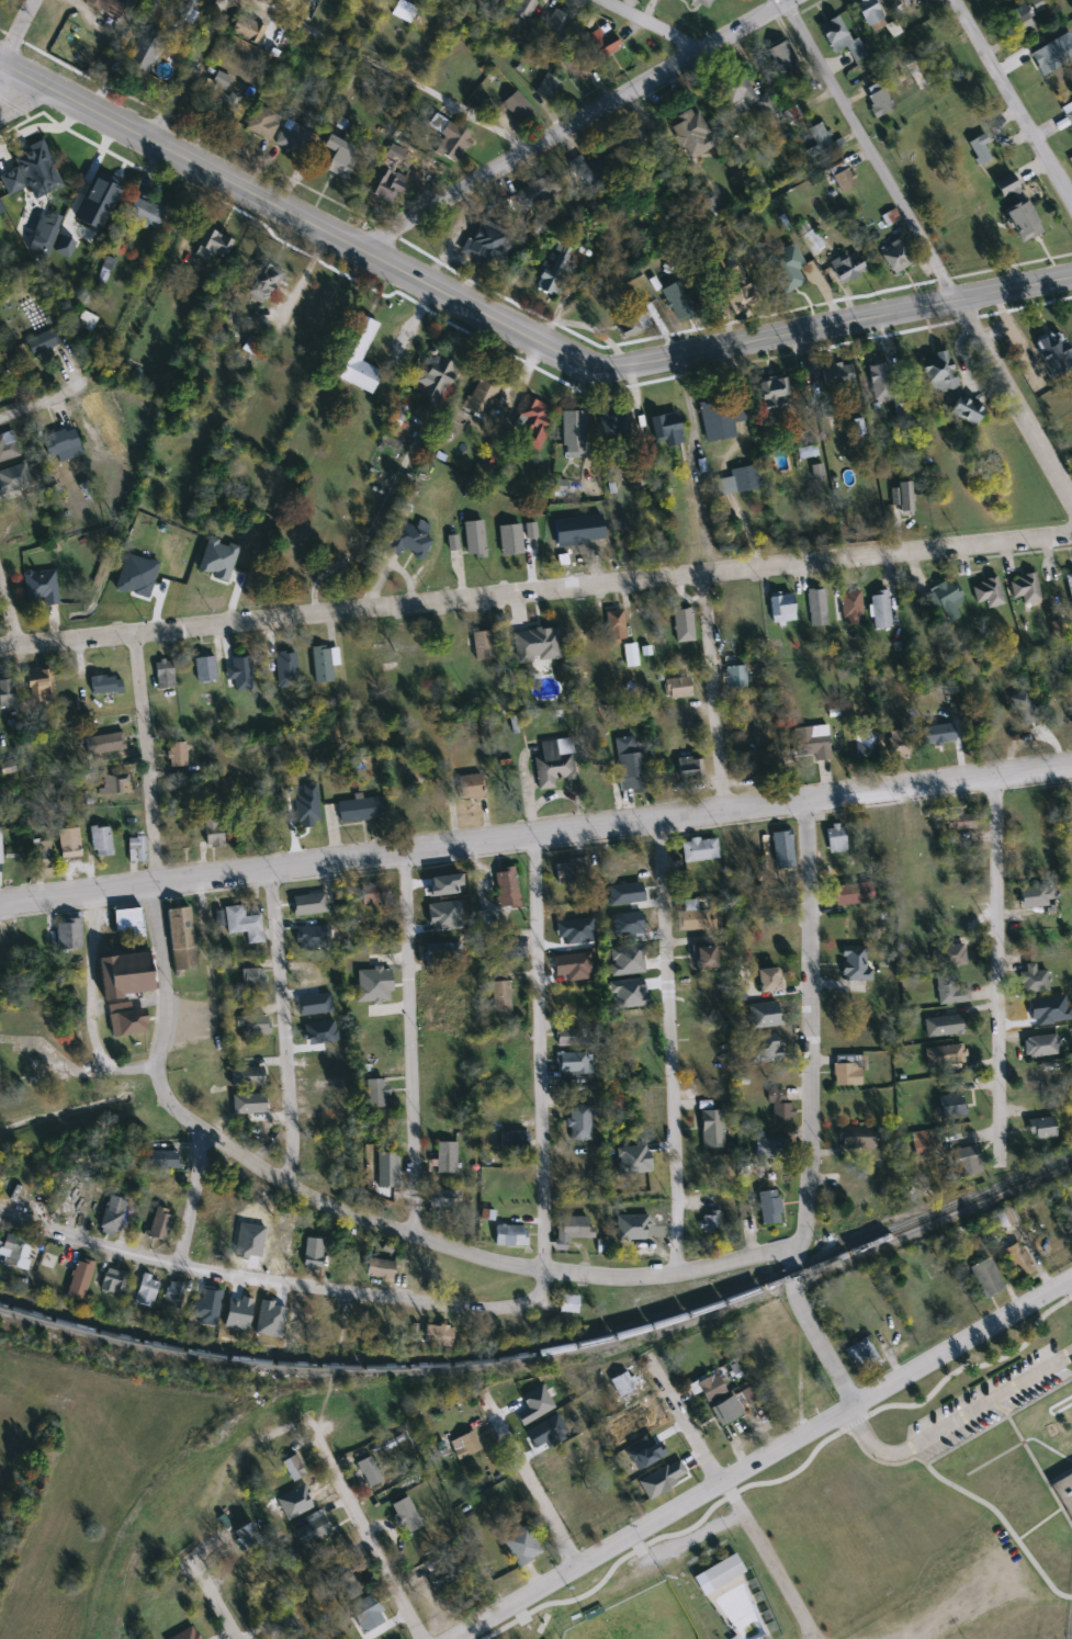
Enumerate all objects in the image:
building: (903, 1)
building: (490, 3)
building: (700, 3)
building: (106, 5)
building: (524, 8)
building: (404, 11)
building: (869, 11)
building: (556, 24)
building: (1017, 24)
road: (653, 25)
road: (19, 30)
building: (842, 38)
building: (603, 42)
building: (146, 52)
building: (1053, 54)
building: (779, 57)
road: (191, 69)
road: (391, 70)
building: (917, 74)
building: (548, 87)
building: (737, 90)
road: (16, 94)
building: (219, 97)
building: (880, 101)
road: (1013, 101)
building: (518, 106)
building: (1069, 111)
building: (262, 123)
road: (580, 123)
building: (692, 134)
building: (630, 135)
building: (293, 137)
building: (821, 139)
building: (452, 142)
building: (338, 155)
building: (35, 165)
building: (590, 170)
building: (843, 178)
building: (388, 185)
building: (1009, 191)
building: (145, 212)
building: (1023, 219)
building: (45, 239)
building: (812, 240)
building: (487, 241)
building: (213, 245)
road: (927, 247)
building: (895, 257)
building: (787, 268)
building: (848, 268)
building: (104, 270)
building: (738, 281)
building: (262, 283)
building: (549, 283)
building: (679, 299)
building: (86, 321)
road: (511, 323)
building: (633, 323)
building: (42, 342)
building: (252, 343)
building: (1054, 352)
building: (357, 355)
building: (939, 373)
building: (837, 374)
building: (437, 380)
building: (881, 383)
building: (774, 396)
building: (482, 397)
road: (56, 400)
building: (966, 409)
building: (97, 412)
building: (722, 416)
building: (533, 423)
building: (617, 423)
building: (667, 429)
building: (574, 434)
building: (63, 441)
building: (8, 448)
building: (808, 452)
road: (692, 464)
building: (745, 478)
building: (562, 486)
building: (902, 496)
road: (359, 538)
building: (408, 541)
building: (208, 565)
building: (1070, 585)
building: (42, 586)
building: (1025, 588)
road: (535, 592)
building: (988, 592)
building: (946, 600)
building: (781, 608)
building: (816, 608)
building: (880, 609)
building: (740, 611)
road: (12, 612)
building: (616, 625)
building: (456, 644)
building: (483, 645)
building: (321, 664)
building: (295, 666)
building: (205, 669)
building: (248, 670)
building: (165, 675)
building: (735, 677)
building: (106, 686)
building: (42, 687)
building: (678, 688)
road: (711, 692)
building: (8, 693)
building: (1062, 720)
building: (939, 735)
building: (813, 742)
building: (104, 744)
building: (902, 744)
building: (867, 745)
building: (177, 754)
building: (758, 764)
building: (629, 765)
building: (552, 767)
building: (690, 770)
building: (115, 783)
building: (470, 787)
building: (432, 802)
building: (359, 810)
building: (960, 822)
building: (214, 833)
road: (535, 833)
building: (836, 839)
building: (101, 840)
building: (70, 844)
building: (782, 846)
building: (137, 849)
building: (0, 850)
building: (699, 850)
building: (45, 854)
building: (1035, 866)
building: (838, 869)
building: (573, 871)
building: (507, 885)
building: (438, 891)
building: (375, 893)
building: (853, 894)
building: (1034, 900)
building: (693, 918)
building: (488, 920)
building: (129, 922)
building: (242, 924)
building: (68, 934)
building: (566, 936)
building: (301, 938)
building: (181, 939)
building: (514, 953)
road: (995, 953)
building: (441, 954)
building: (704, 957)
building: (855, 964)
building: (301, 969)
building: (576, 971)
building: (125, 974)
building: (253, 977)
building: (1035, 979)
building: (769, 980)
building: (948, 991)
building: (500, 996)
building: (316, 999)
road: (90, 1004)
building: (126, 1019)
building: (255, 1025)
building: (944, 1026)
road: (282, 1028)
road: (810, 1028)
building: (777, 1029)
building: (569, 1037)
road: (410, 1044)
building: (1041, 1045)
road: (669, 1047)
road: (539, 1050)
building: (945, 1055)
building: (19, 1061)
building: (574, 1062)
building: (320, 1063)
building: (847, 1072)
building: (1041, 1082)
building: (376, 1094)
building: (951, 1106)
building: (780, 1108)
building: (579, 1122)
building: (1043, 1129)
building: (712, 1130)
building: (858, 1138)
building: (514, 1142)
building: (922, 1145)
building: (768, 1148)
road: (249, 1158)
building: (447, 1158)
building: (163, 1160)
building: (316, 1161)
building: (966, 1162)
building: (163, 1188)
road: (195, 1191)
building: (442, 1199)
building: (71, 1208)
building: (770, 1208)
building: (113, 1216)
building: (710, 1223)
building: (160, 1224)
building: (572, 1230)
building: (509, 1235)
building: (210, 1244)
building: (13, 1253)
building: (314, 1254)
building: (380, 1269)
road: (1070, 1278)
building: (988, 1279)
building: (80, 1280)
building: (114, 1281)
road: (278, 1281)
road: (1070, 1281)
building: (147, 1291)
building: (173, 1295)
road: (1068, 1295)
building: (210, 1302)
building: (569, 1304)
building: (238, 1312)
building: (277, 1315)
building: (316, 1327)
road: (810, 1332)
building: (439, 1336)
railway: (550, 1347)
building: (864, 1356)
road: (967, 1363)
building: (623, 1384)
building: (711, 1388)
building: (805, 1393)
parking lot: (984, 1400)
building: (727, 1411)
road: (684, 1415)
road: (851, 1422)
building: (639, 1424)
road: (952, 1424)
building: (348, 1426)
building: (467, 1446)
railway: (182, 1451)
road: (759, 1458)
building: (560, 1466)
building: (294, 1468)
road: (794, 1469)
building: (368, 1472)
road: (1045, 1481)
road: (531, 1484)
building: (304, 1492)
building: (1063, 1493)
building: (406, 1515)
building: (313, 1528)
road: (366, 1536)
building: (246, 1537)
building: (522, 1546)
road: (767, 1559)
building: (716, 1571)
park: (800, 1572)
building: (447, 1575)
road: (217, 1602)
building: (368, 1614)
park: (636, 1617)
park: (1064, 1638)

